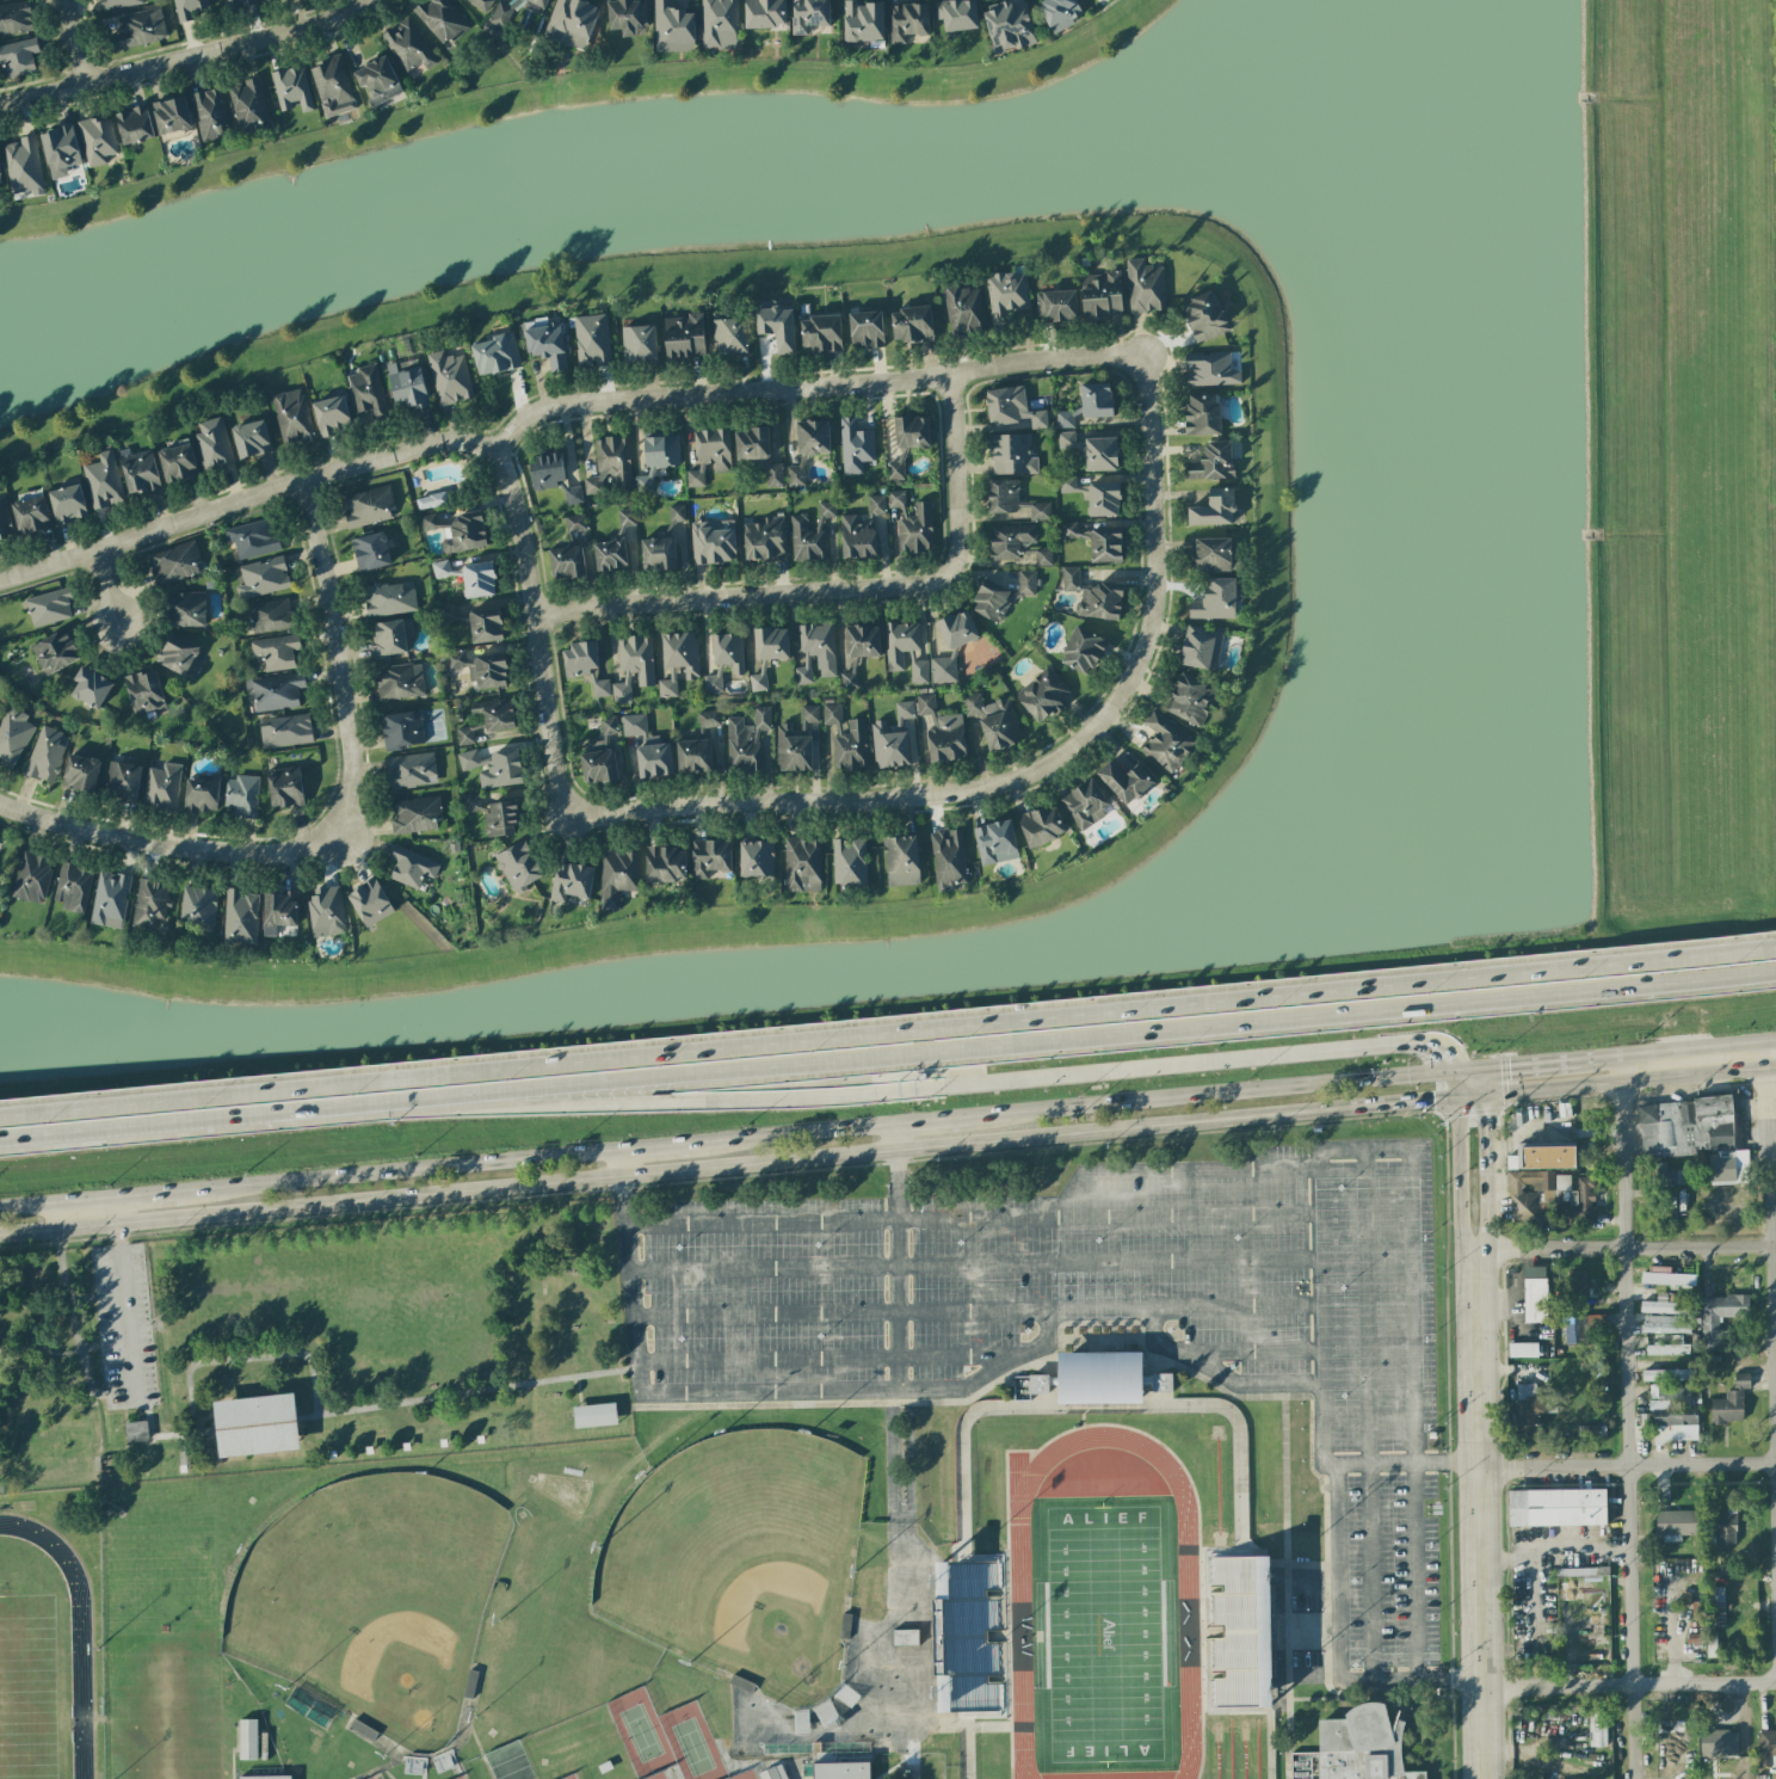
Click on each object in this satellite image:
building: (266, 0)
building: (119, 2)
building: (539, 2)
building: (236, 4)
building: (481, 4)
building: (189, 8)
building: (764, 13)
building: (1059, 13)
building: (957, 14)
building: (808, 16)
building: (627, 17)
building: (14, 18)
building: (440, 19)
building: (499, 19)
building: (863, 20)
building: (571, 21)
building: (907, 21)
building: (719, 24)
building: (1009, 26)
building: (140, 27)
building: (672, 27)
road: (74, 42)
building: (408, 47)
road: (185, 56)
building: (18, 57)
building: (377, 80)
building: (332, 86)
building: (291, 88)
building: (248, 104)
building: (209, 113)
building: (171, 115)
building: (134, 125)
building: (97, 140)
building: (60, 150)
building: (23, 166)
building: (0, 177)
building: (1145, 287)
building: (1100, 295)
building: (1006, 296)
building: (1056, 306)
building: (963, 309)
building: (1205, 316)
building: (912, 325)
building: (865, 330)
building: (820, 333)
building: (684, 337)
building: (729, 337)
building: (592, 340)
building: (545, 341)
building: (639, 343)
building: (495, 355)
building: (1209, 369)
building: (449, 377)
building: (407, 388)
building: (366, 390)
building: (1096, 400)
road: (553, 406)
building: (1012, 407)
building: (331, 414)
building: (1202, 414)
building: (291, 415)
building: (1066, 418)
building: (911, 431)
building: (251, 439)
building: (1066, 439)
building: (212, 443)
building: (751, 443)
building: (855, 445)
building: (808, 448)
building: (709, 454)
building: (1011, 454)
building: (1100, 454)
building: (658, 458)
building: (1213, 461)
building: (177, 463)
building: (609, 464)
building: (895, 469)
building: (138, 470)
road: (954, 474)
building: (773, 475)
building: (553, 478)
building: (103, 481)
building: (1067, 484)
building: (1103, 499)
building: (431, 500)
building: (1013, 500)
building: (67, 504)
building: (876, 504)
building: (368, 506)
building: (1214, 509)
building: (677, 512)
building: (30, 513)
building: (627, 517)
building: (428, 522)
building: (5, 523)
building: (912, 524)
building: (574, 525)
building: (1068, 530)
building: (463, 533)
building: (809, 533)
building: (253, 538)
building: (764, 538)
building: (857, 538)
building: (1010, 540)
building: (713, 544)
building: (1105, 546)
building: (371, 550)
building: (610, 554)
building: (658, 554)
building: (1214, 555)
building: (1043, 556)
building: (174, 562)
building: (567, 562)
building: (445, 570)
building: (263, 577)
building: (479, 579)
building: (1025, 583)
road: (109, 586)
road: (742, 596)
building: (1092, 596)
building: (388, 599)
building: (1215, 599)
building: (991, 602)
building: (49, 608)
building: (187, 609)
building: (446, 614)
building: (270, 616)
building: (957, 629)
road: (536, 632)
building: (391, 638)
building: (862, 641)
building: (900, 642)
building: (770, 644)
building: (1201, 648)
building: (1083, 650)
building: (276, 651)
building: (815, 651)
building: (55, 652)
building: (179, 655)
road: (339, 657)
building: (636, 658)
building: (724, 659)
building: (678, 660)
building: (584, 666)
building: (480, 667)
building: (943, 670)
building: (919, 672)
building: (758, 679)
building: (849, 679)
building: (399, 682)
building: (91, 688)
building: (622, 690)
building: (143, 691)
building: (275, 691)
building: (1043, 695)
building: (1190, 700)
building: (905, 709)
building: (495, 714)
building: (809, 714)
building: (709, 719)
building: (993, 720)
building: (634, 725)
building: (608, 726)
building: (402, 730)
building: (285, 731)
building: (942, 731)
building: (12, 735)
building: (464, 735)
building: (746, 740)
building: (846, 740)
building: (1166, 741)
building: (889, 745)
building: (793, 750)
building: (45, 755)
building: (693, 756)
building: (654, 761)
building: (598, 767)
building: (493, 768)
building: (412, 770)
building: (80, 772)
road: (1026, 775)
building: (123, 780)
building: (1124, 782)
building: (161, 786)
building: (284, 787)
building: (201, 795)
building: (241, 795)
building: (471, 802)
building: (1085, 804)
building: (415, 814)
building: (501, 817)
building: (1041, 826)
building: (995, 842)
road: (168, 845)
building: (709, 857)
building: (756, 858)
building: (949, 858)
building: (901, 860)
building: (849, 862)
building: (665, 864)
building: (802, 864)
building: (519, 866)
building: (412, 867)
building: (31, 876)
building: (617, 876)
building: (571, 881)
building: (73, 886)
building: (110, 899)
building: (150, 903)
building: (370, 903)
building: (198, 905)
building: (326, 911)
building: (279, 912)
building: (240, 917)
road: (888, 1030)
road: (1093, 1041)
road: (1388, 1045)
road: (1700, 1047)
traffic signals: (1444, 1054)
road: (1220, 1061)
road: (1546, 1064)
traffic signals: (1511, 1067)
road: (1475, 1085)
road: (1630, 1085)
railway: (888, 1087)
road: (1462, 1087)
road: (1217, 1095)
road: (773, 1098)
road: (1472, 1101)
traffic signals: (1435, 1104)
traffic signals: (1486, 1119)
road: (932, 1121)
road: (205, 1126)
road: (798, 1134)
building: (1696, 1135)
road: (659, 1147)
road: (1398, 1149)
building: (1542, 1157)
road: (728, 1168)
road: (402, 1172)
building: (1667, 1175)
road: (1486, 1177)
road: (1459, 1178)
road: (154, 1198)
road: (58, 1205)
road: (761, 1220)
road: (1623, 1248)
road: (1775, 1249)
road: (898, 1256)
road: (629, 1273)
road: (1321, 1275)
building: (1665, 1278)
road: (63, 1279)
building: (1577, 1286)
building: (1535, 1294)
road: (124, 1304)
building: (1666, 1306)
building: (1719, 1317)
building: (1666, 1324)
building: (1587, 1328)
parking lot: (123, 1329)
road: (1154, 1335)
park: (310, 1346)
building: (1522, 1349)
building: (1667, 1349)
road: (63, 1354)
road: (243, 1361)
building: (1669, 1374)
building: (1100, 1375)
road: (576, 1393)
road: (465, 1395)
road: (98, 1397)
building: (1731, 1402)
building: (1530, 1410)
building: (1673, 1412)
road: (123, 1416)
building: (593, 1417)
road: (1633, 1417)
building: (253, 1427)
park: (253, 1427)
building: (1593, 1430)
building: (134, 1433)
road: (179, 1435)
road: (179, 1451)
road: (93, 1452)
road: (1628, 1461)
road: (1410, 1464)
parking lot: (51, 1473)
building: (1556, 1507)
road: (1481, 1515)
building: (1675, 1525)
building: (1725, 1526)
road: (1558, 1552)
park: (741, 1558)
stadium: (769, 1588)
stadium: (1093, 1588)
road: (1316, 1588)
building: (1574, 1590)
park: (372, 1599)
building: (1718, 1607)
building: (1237, 1631)
building: (1590, 1631)
park: (1104, 1633)
track: (1188, 1633)
stadium: (50, 1635)
building: (973, 1636)
building: (904, 1637)
building: (1710, 1645)
road: (1316, 1673)
road: (1450, 1680)
park: (33, 1686)
road: (1628, 1686)
track: (81, 1692)
building: (1596, 1728)
park: (640, 1732)
building: (247, 1738)
building: (1719, 1743)
park: (692, 1747)
building: (1766, 1748)
building: (1357, 1749)
building: (840, 1771)
building: (772, 1773)
building: (265, 1777)
building: (1692, 1778)

